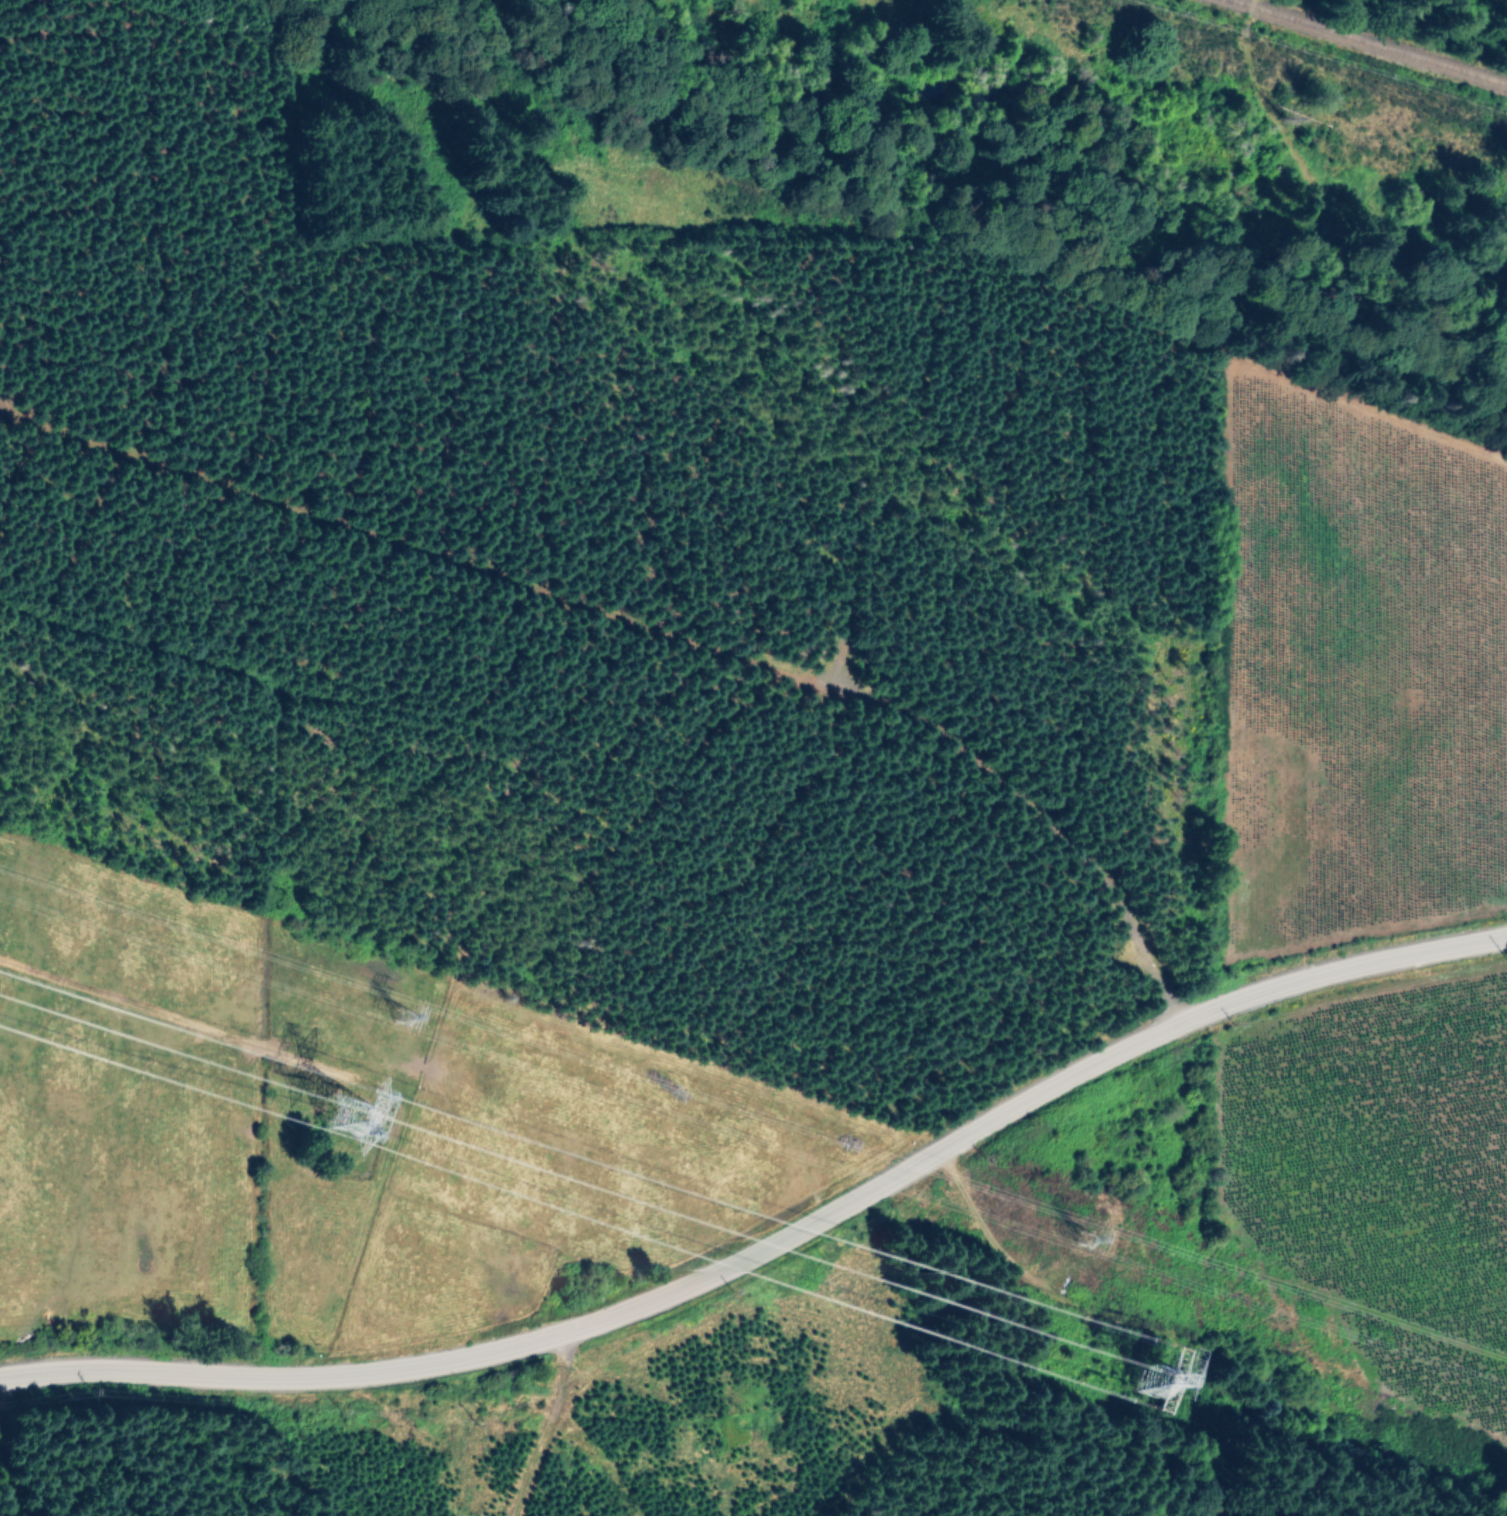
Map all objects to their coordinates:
railway: (1364, 43)
road: (1343, 209)
crop: (1362, 853)
power tower: (407, 1013)
power tower: (350, 1118)
road: (774, 1240)
power tower: (1088, 1244)
road: (1056, 1305)
power tower: (1160, 1385)
road: (542, 1426)

